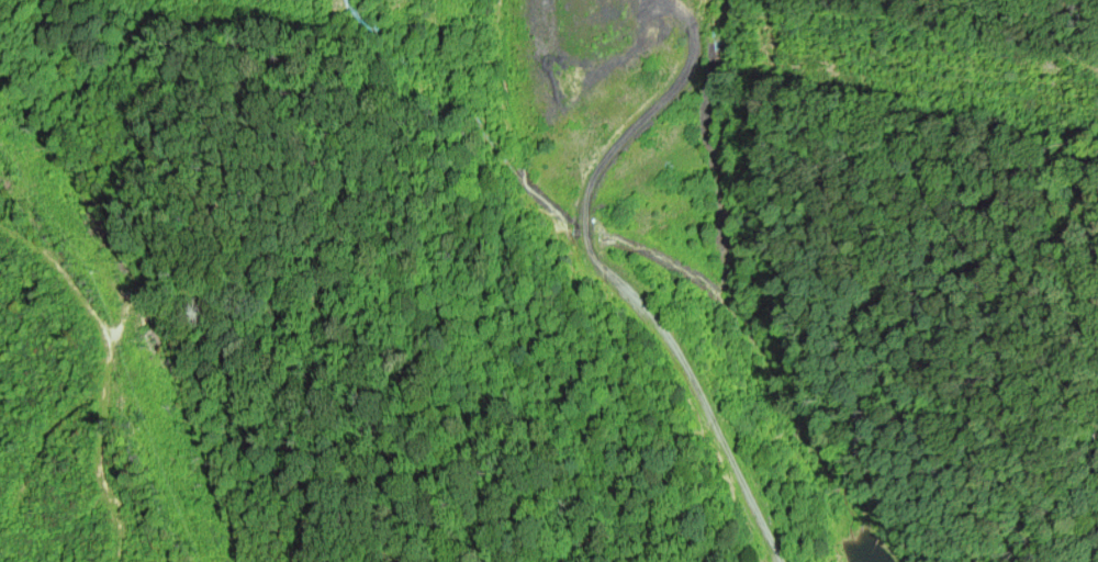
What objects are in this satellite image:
road: (612, 281)

